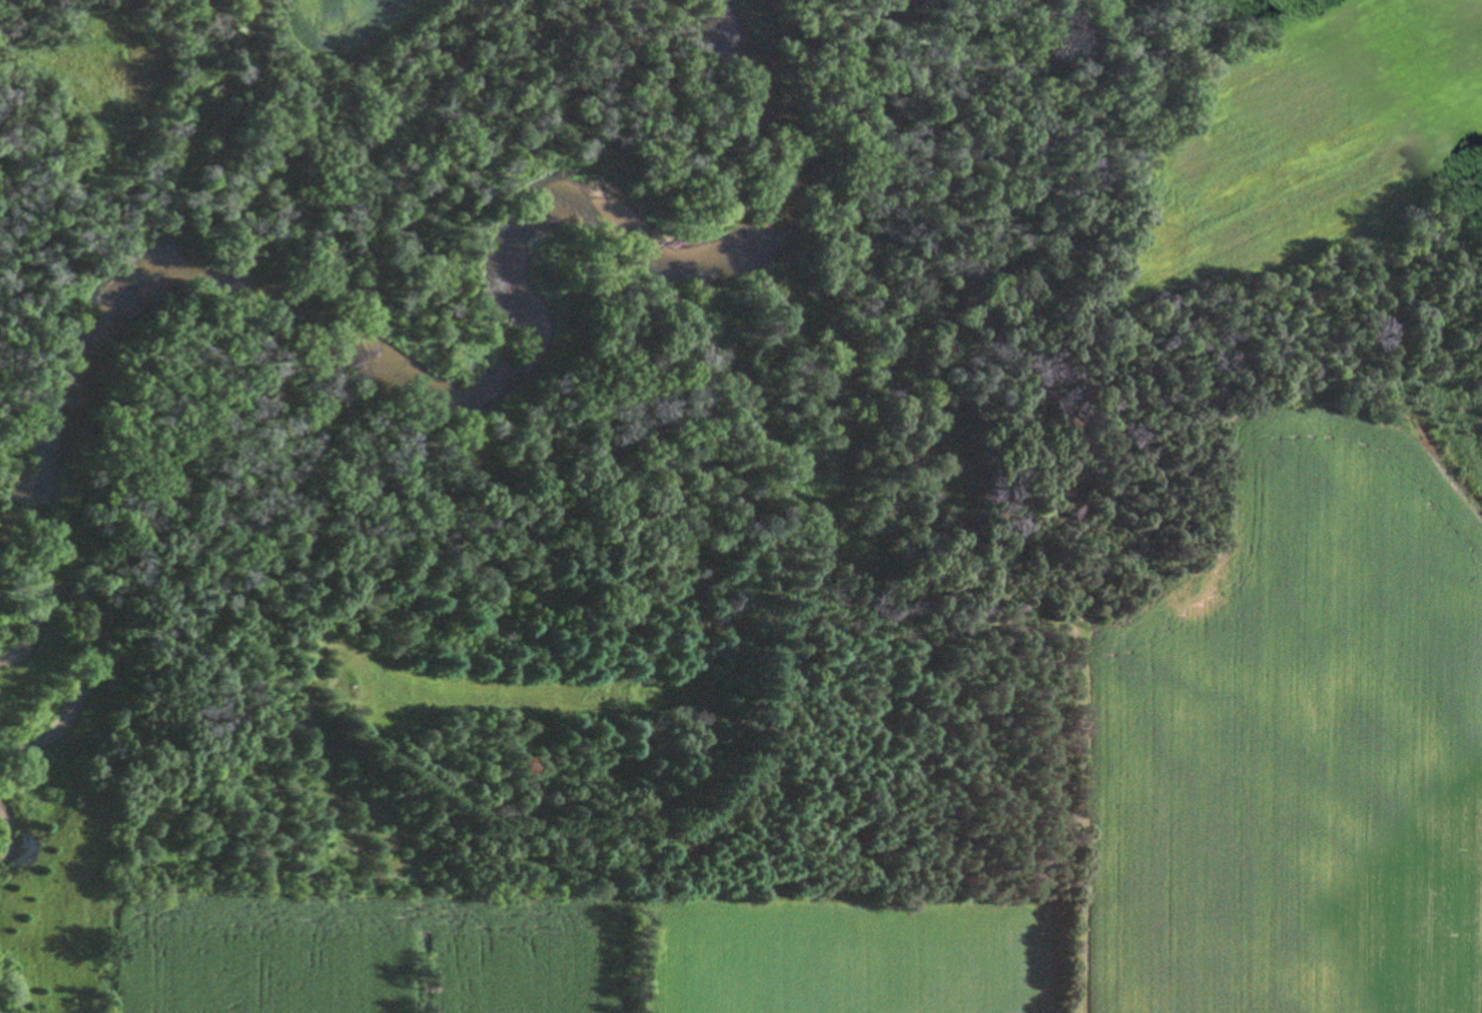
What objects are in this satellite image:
river: (700, 205)
river: (199, 283)
river: (486, 352)
river: (18, 490)

